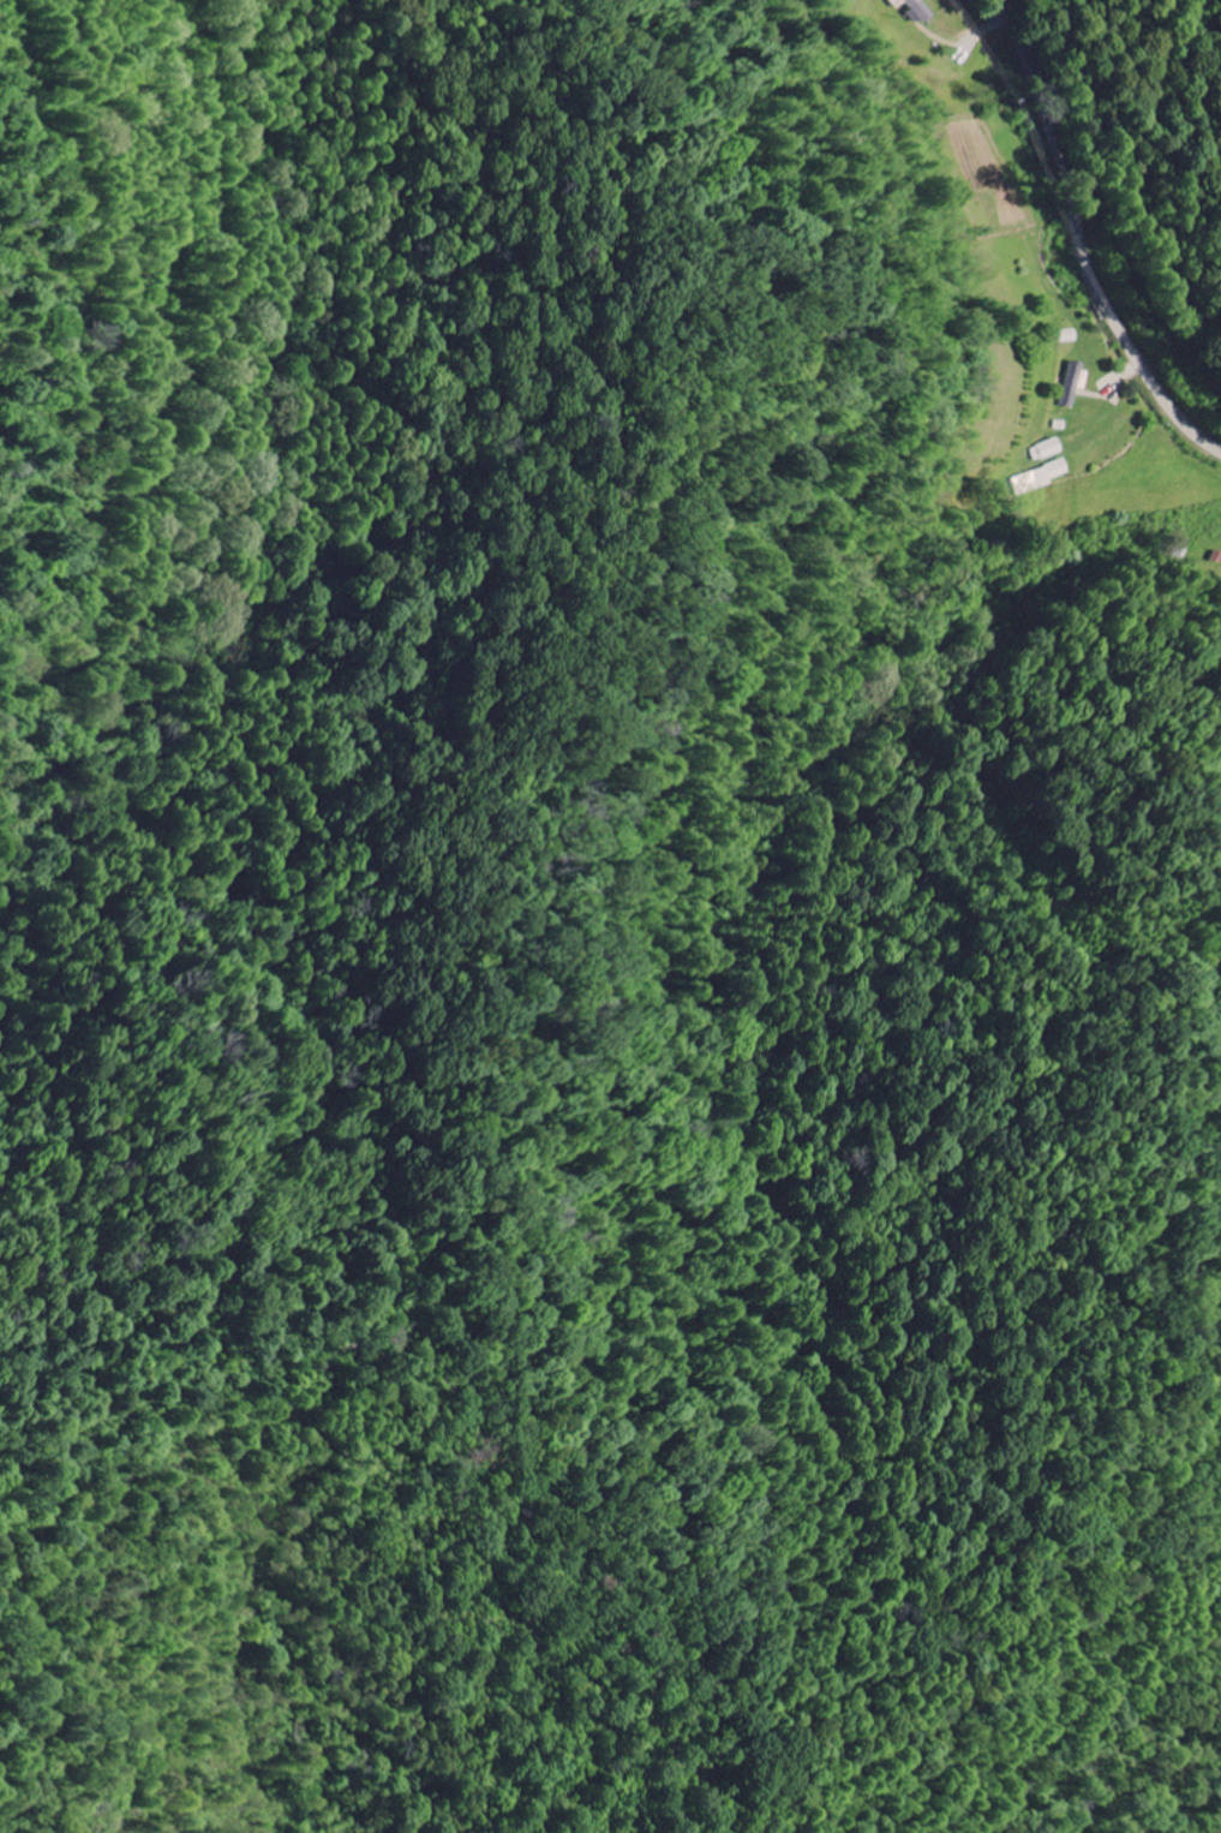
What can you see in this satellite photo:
building: (915, 8)
road: (1083, 238)
building: (1071, 382)
building: (1045, 449)

